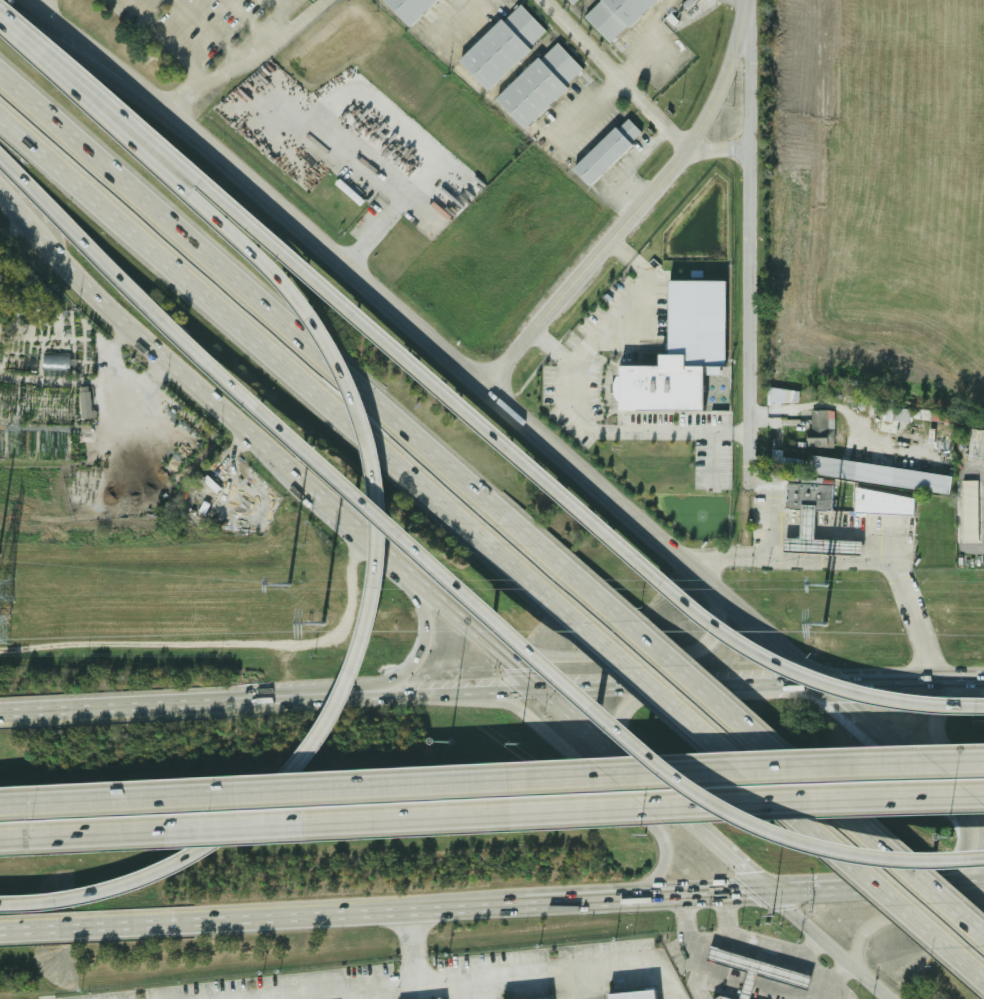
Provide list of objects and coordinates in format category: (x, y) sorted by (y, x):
road: (30, 1)
building: (572, 2)
road: (279, 4)
building: (406, 8)
building: (612, 15)
road: (241, 17)
road: (452, 25)
road: (266, 26)
road: (204, 33)
road: (164, 39)
road: (80, 43)
road: (68, 44)
building: (501, 46)
road: (248, 60)
road: (613, 73)
building: (537, 84)
road: (605, 93)
road: (720, 143)
building: (604, 150)
road: (626, 166)
road: (383, 174)
road: (636, 206)
road: (86, 244)
road: (753, 246)
road: (308, 346)
road: (551, 346)
building: (676, 351)
road: (124, 367)
road: (298, 378)
road: (482, 390)
road: (574, 393)
building: (779, 396)
building: (83, 402)
road: (464, 414)
building: (890, 418)
building: (816, 428)
road: (228, 449)
road: (714, 457)
building: (877, 475)
building: (810, 490)
road: (375, 495)
building: (880, 503)
building: (194, 508)
road: (777, 508)
building: (966, 511)
road: (347, 515)
road: (788, 522)
road: (808, 522)
road: (859, 526)
gas station: (819, 533)
road: (850, 556)
power tower: (1, 589)
road: (637, 659)
road: (414, 662)
traffic signals: (510, 662)
road: (542, 667)
road: (977, 685)
road: (818, 687)
traffic signals: (833, 687)
road: (902, 687)
road: (733, 689)
traffic signals: (581, 693)
road: (493, 695)
road: (276, 698)
road: (114, 707)
road: (618, 715)
traffic signals: (616, 723)
road: (938, 736)
road: (908, 756)
road: (800, 778)
road: (491, 779)
road: (603, 781)
road: (769, 792)
road: (491, 815)
traffic signals: (966, 833)
road: (960, 854)
road: (742, 860)
road: (957, 883)
road: (864, 887)
traffic signals: (779, 891)
road: (435, 907)
road: (727, 912)
road: (900, 917)
road: (36, 927)
road: (410, 933)
road: (740, 934)
road: (837, 945)
road: (693, 955)
road: (645, 957)
road: (963, 964)
road: (498, 969)
building: (759, 969)
gas station: (759, 969)
road: (720, 971)
road: (823, 979)
road: (586, 981)
road: (750, 981)
road: (467, 986)
road: (307, 987)
road: (695, 987)
road: (811, 989)
road: (369, 990)
road: (777, 990)
building: (635, 994)
road: (254, 995)
building: (540, 998)
building: (723, 998)
road: (799, 998)

